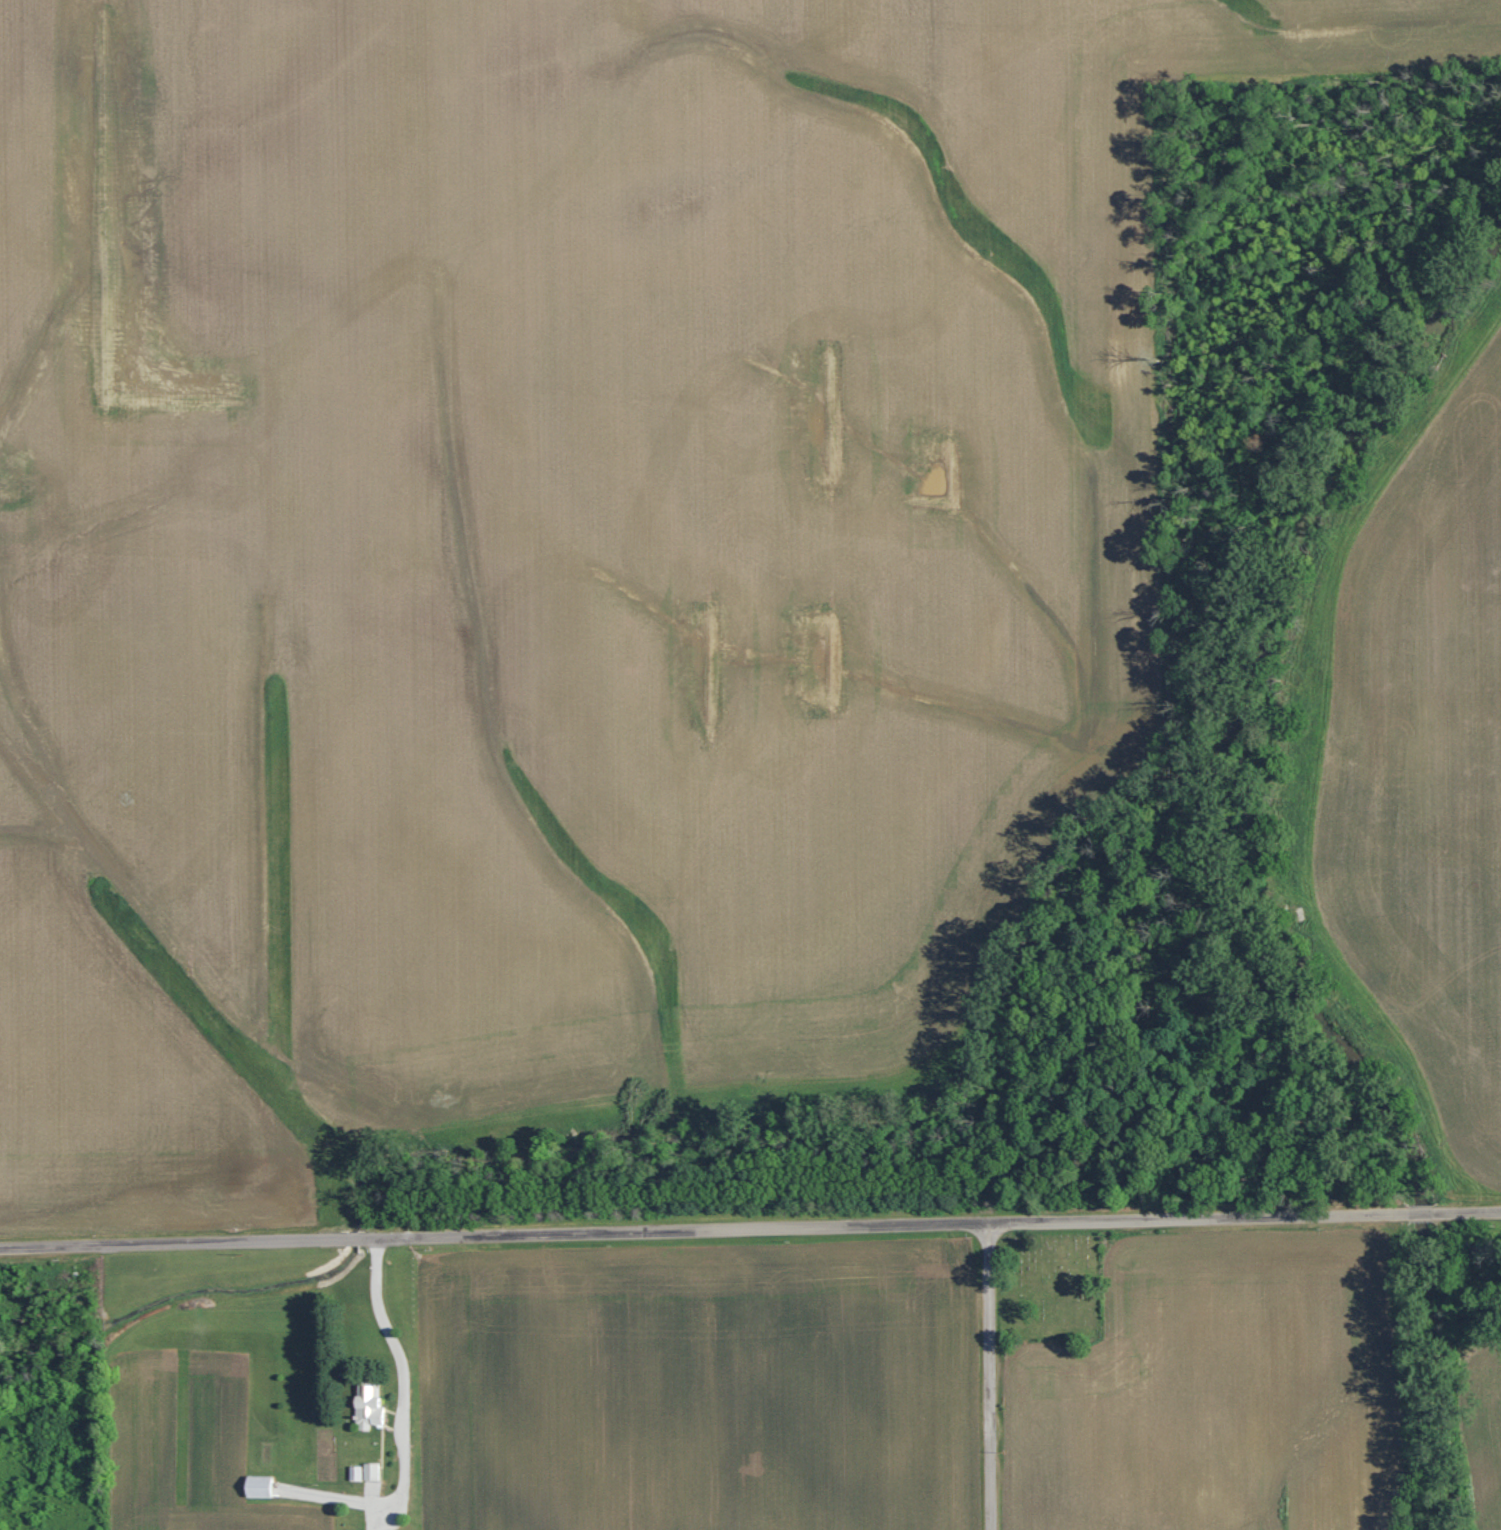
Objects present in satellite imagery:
road: (750, 1226)
road: (387, 1325)
road: (988, 1374)
building: (366, 1403)

